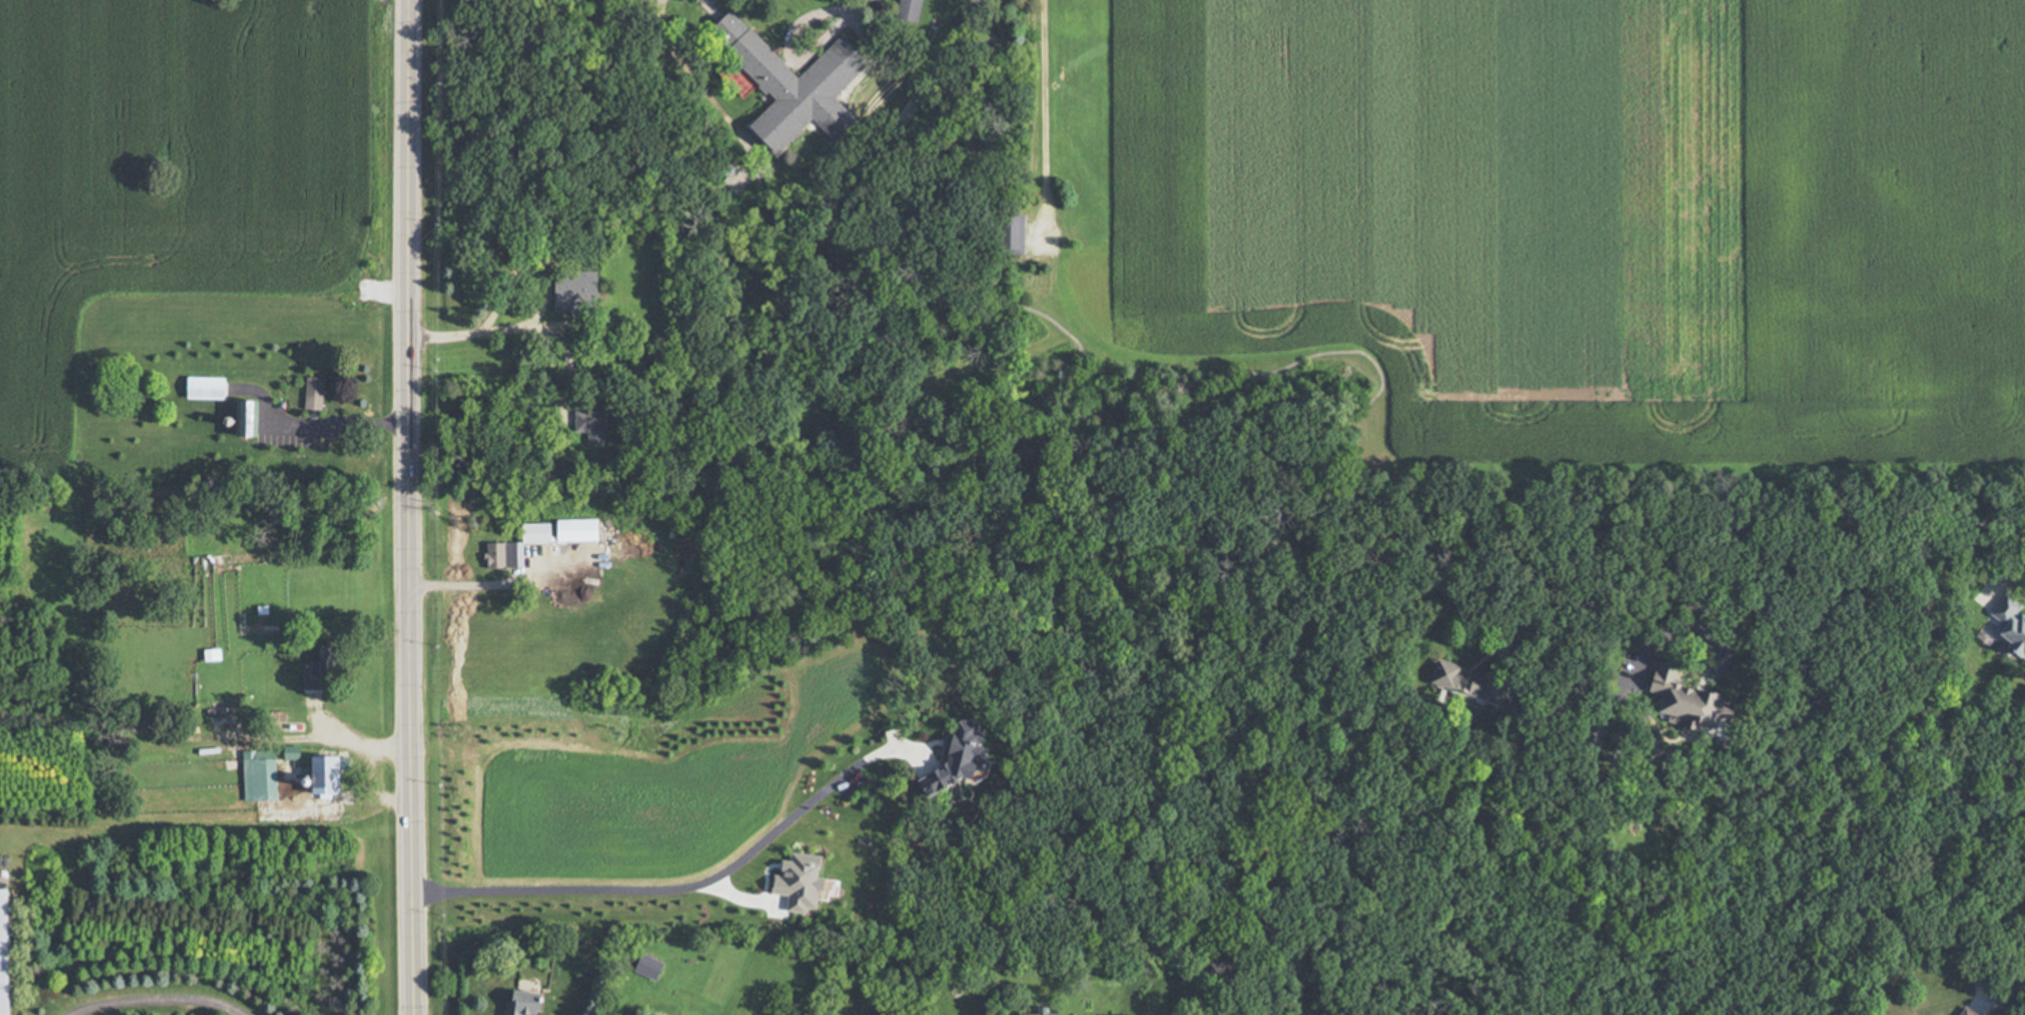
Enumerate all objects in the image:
road: (854, 5)
building: (913, 9)
road: (790, 47)
building: (798, 82)
road: (1048, 120)
building: (580, 294)
road: (489, 331)
building: (209, 387)
building: (317, 393)
building: (596, 425)
road: (317, 426)
building: (335, 446)
road: (406, 507)
road: (1775, 519)
building: (568, 531)
building: (508, 555)
building: (2010, 637)
building: (215, 654)
building: (325, 670)
building: (1462, 683)
building: (1676, 698)
building: (1587, 738)
building: (322, 771)
building: (262, 775)
road: (667, 890)
building: (9, 952)
building: (654, 966)
road: (161, 999)
road: (2003, 1001)
building: (530, 1003)
building: (1049, 1012)
building: (1961, 1014)

